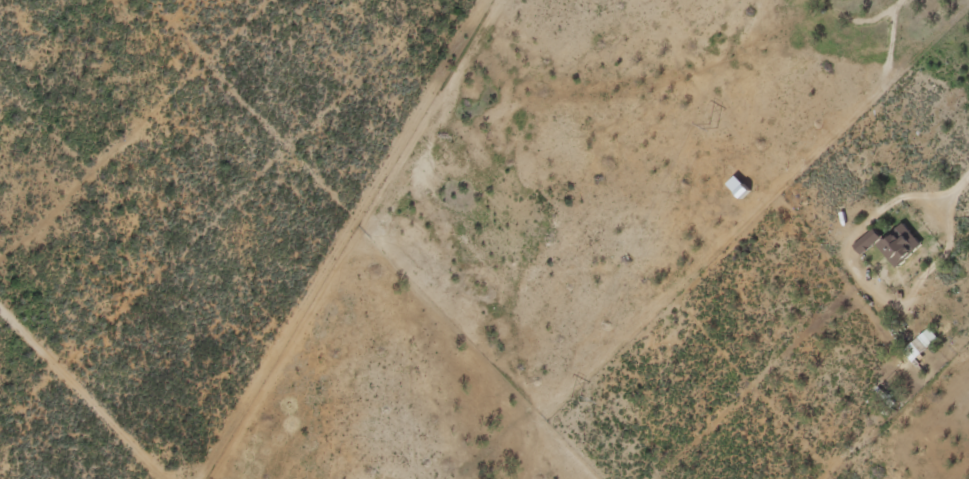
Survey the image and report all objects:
road: (9, 12)
power tower: (712, 127)
road: (387, 239)
building: (891, 240)
power tower: (574, 400)

